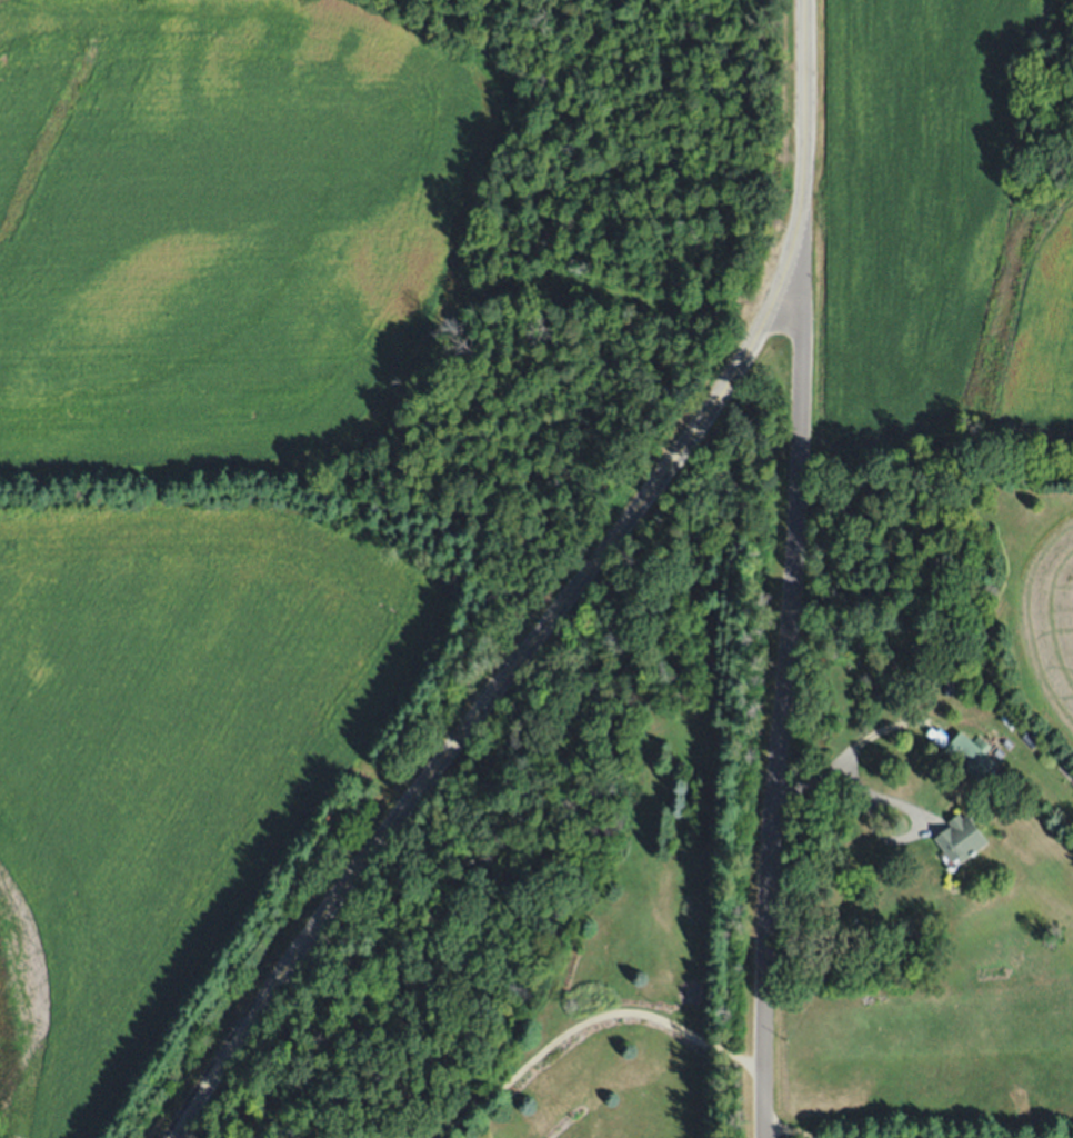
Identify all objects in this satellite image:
road: (571, 599)
road: (784, 683)
building: (960, 683)
road: (852, 745)
building: (970, 753)
building: (959, 838)

